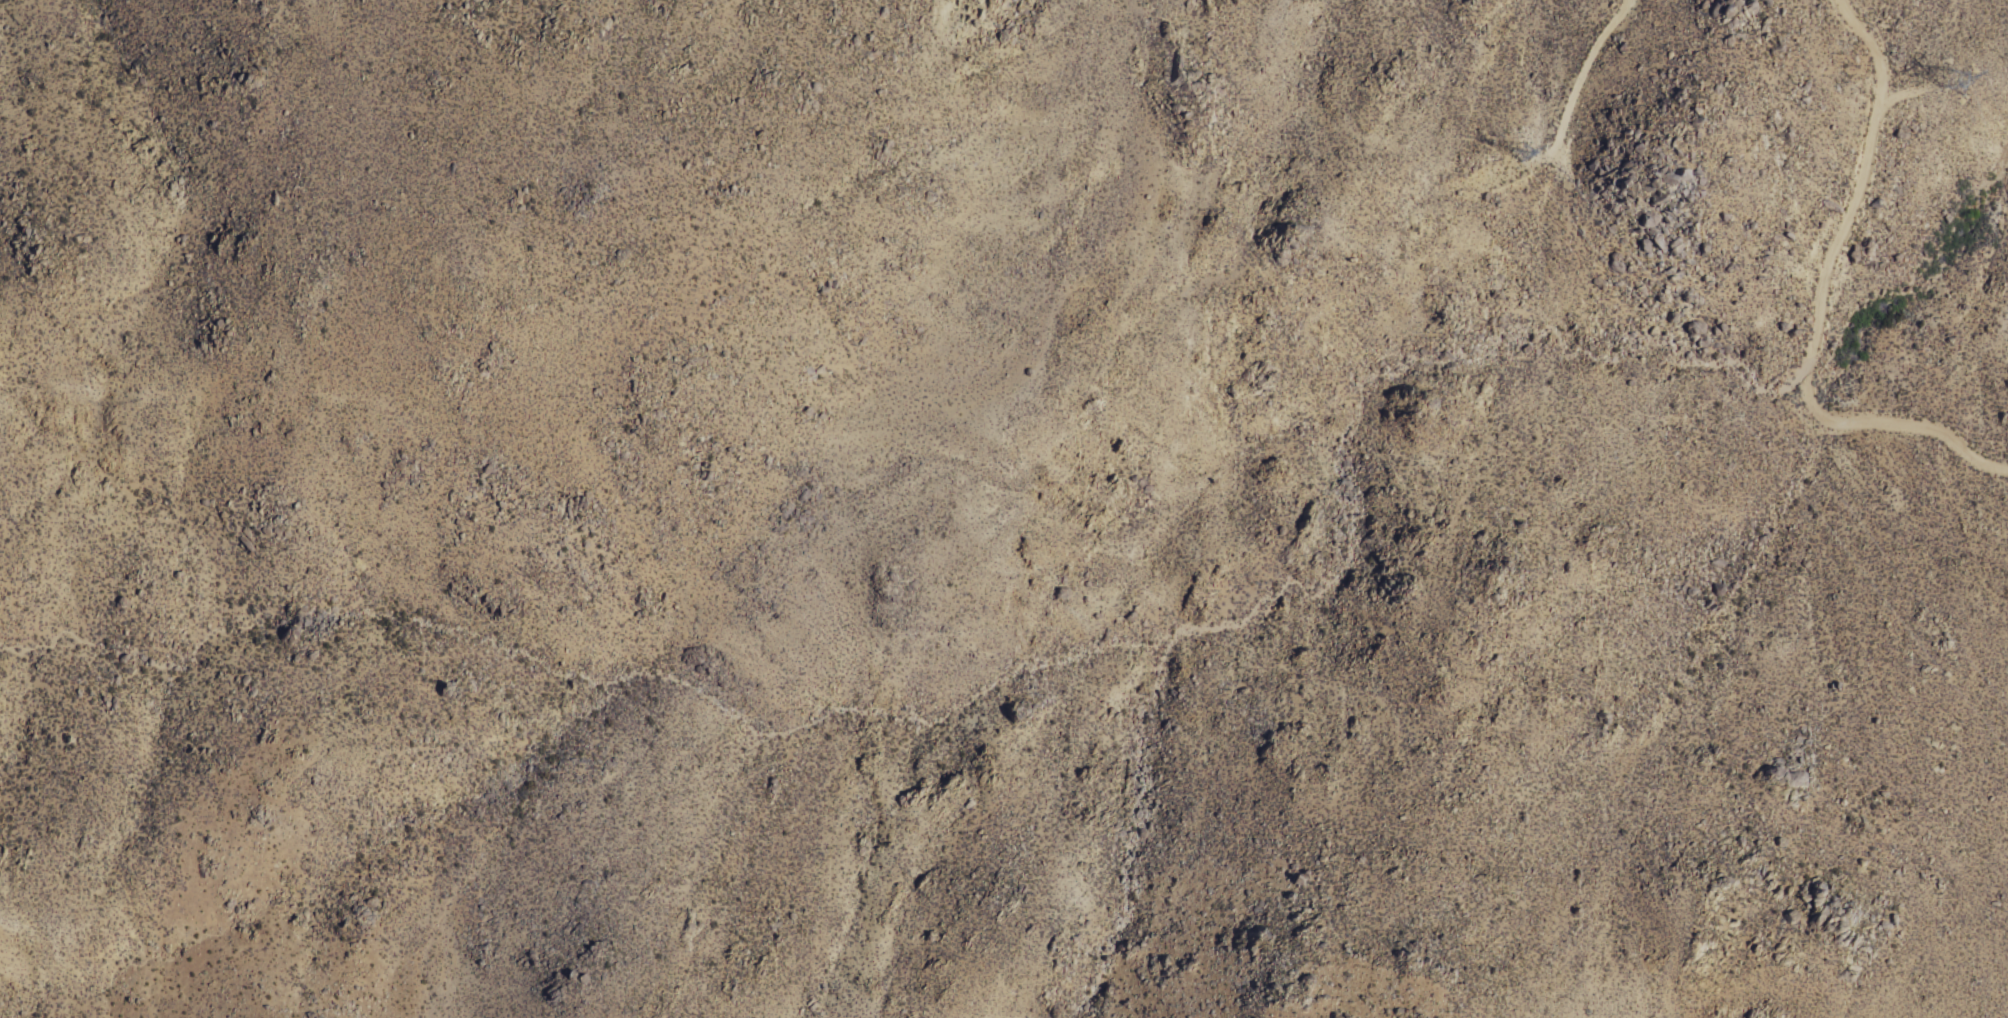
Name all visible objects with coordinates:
road: (1574, 70)
power tower: (1950, 81)
road: (1890, 95)
power tower: (1521, 157)
road: (1822, 301)

